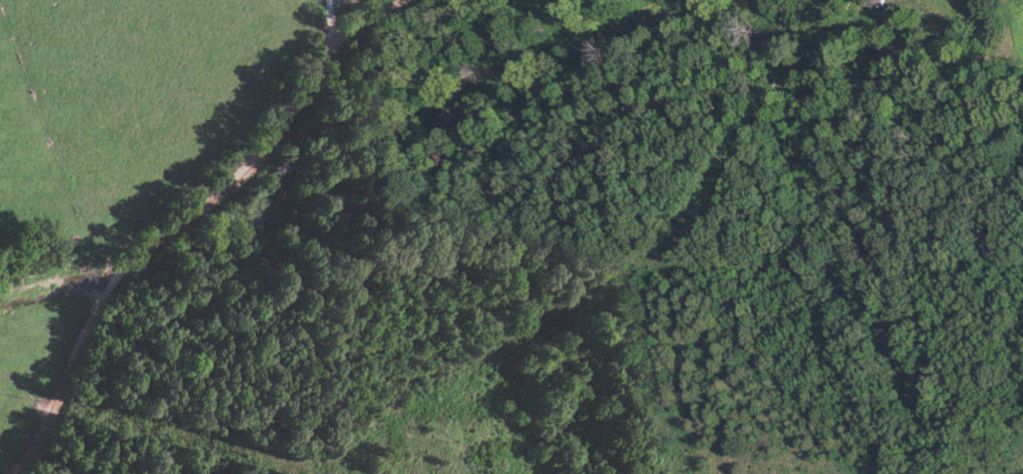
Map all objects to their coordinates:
road: (328, 20)
road: (199, 218)

